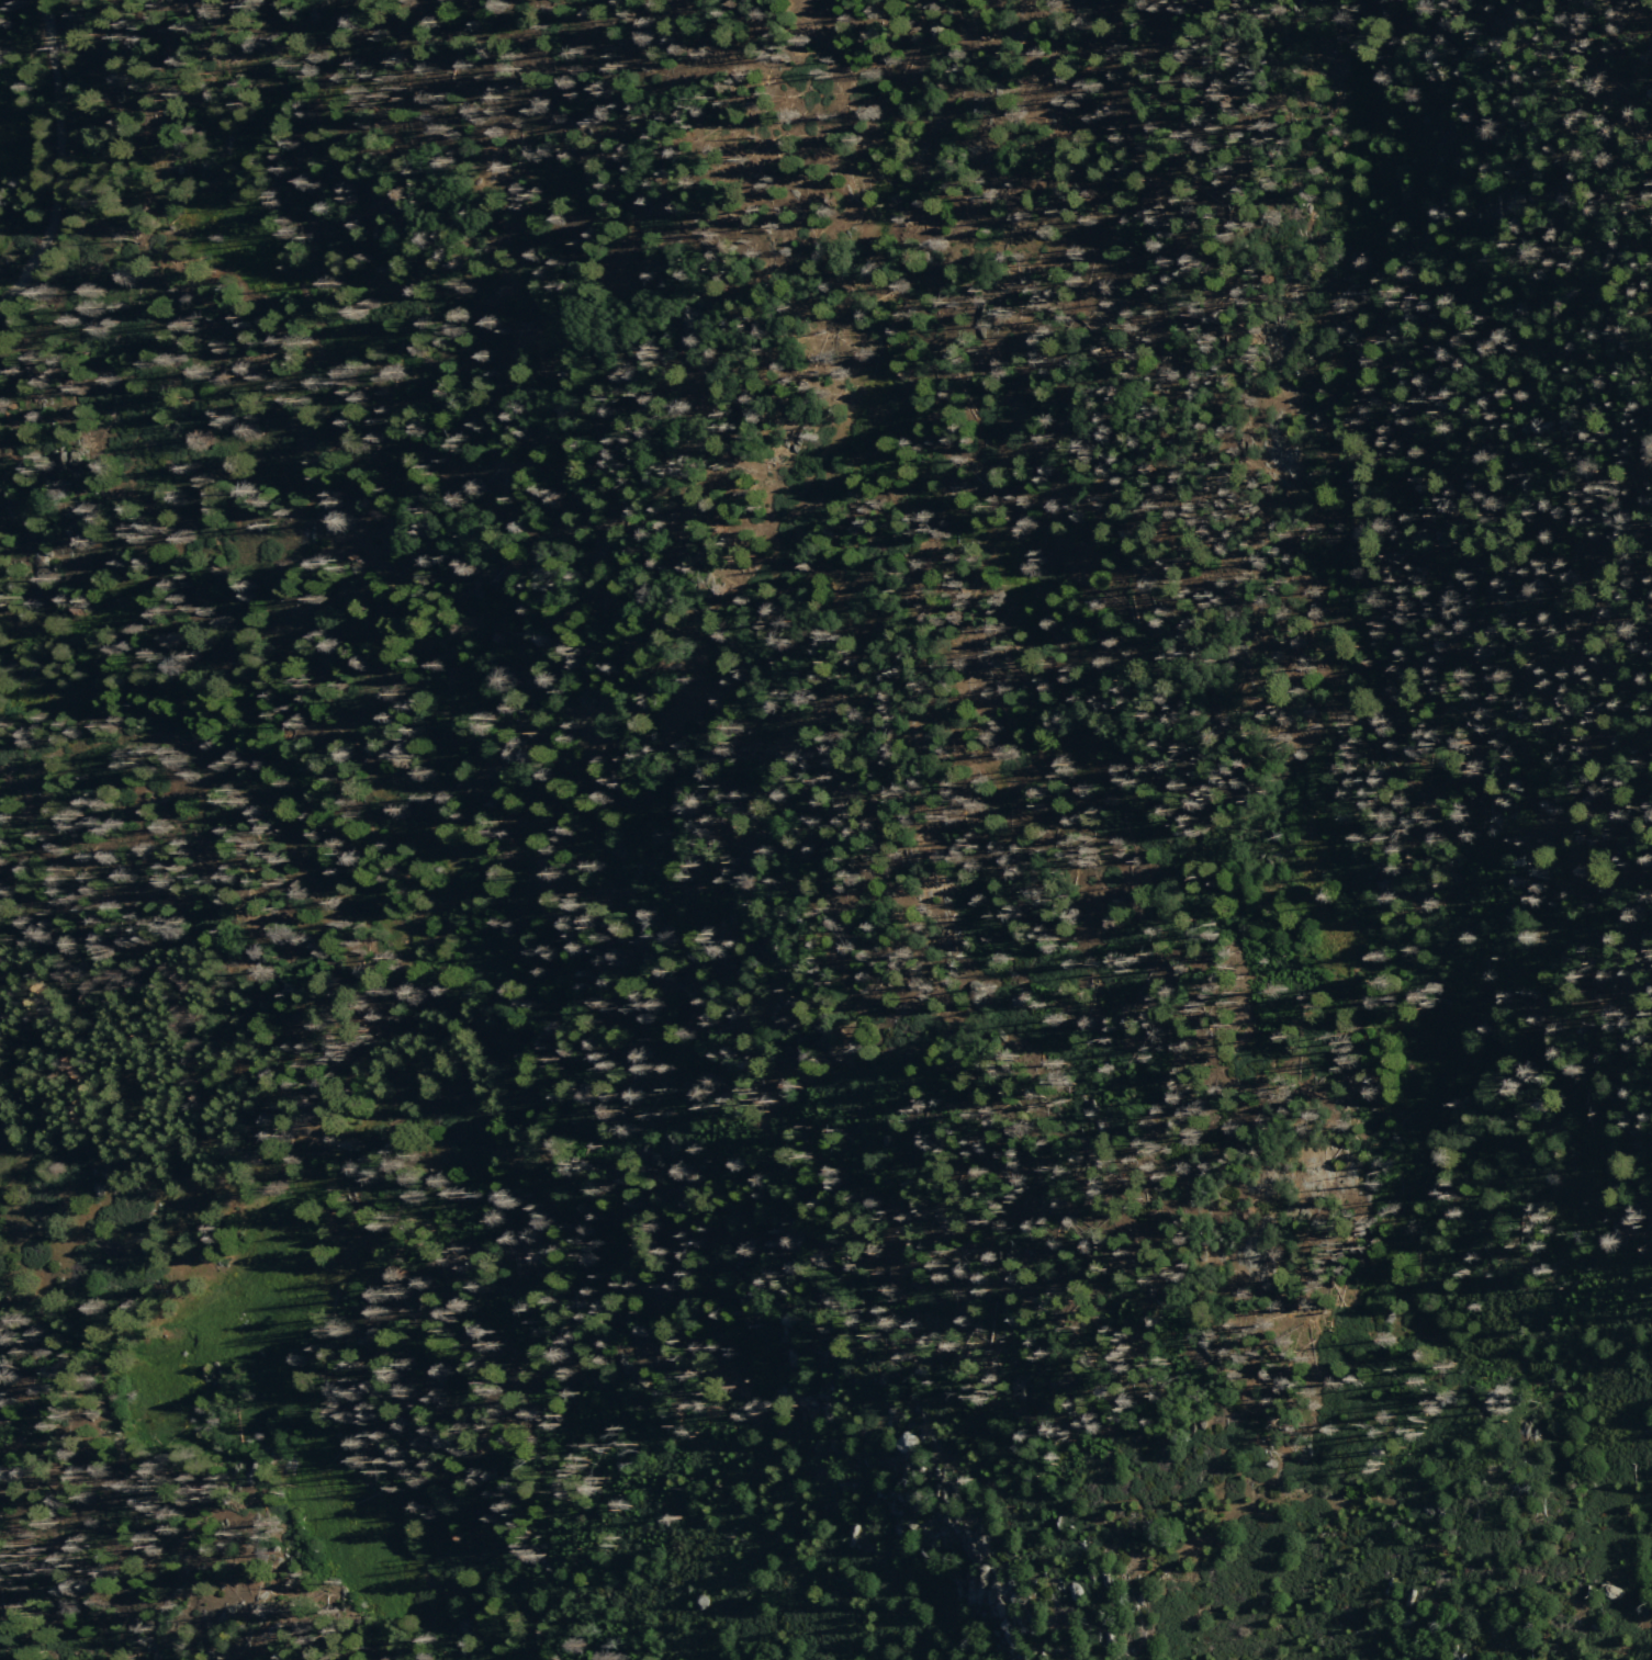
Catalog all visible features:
road: (50, 158)
road: (1384, 1509)

